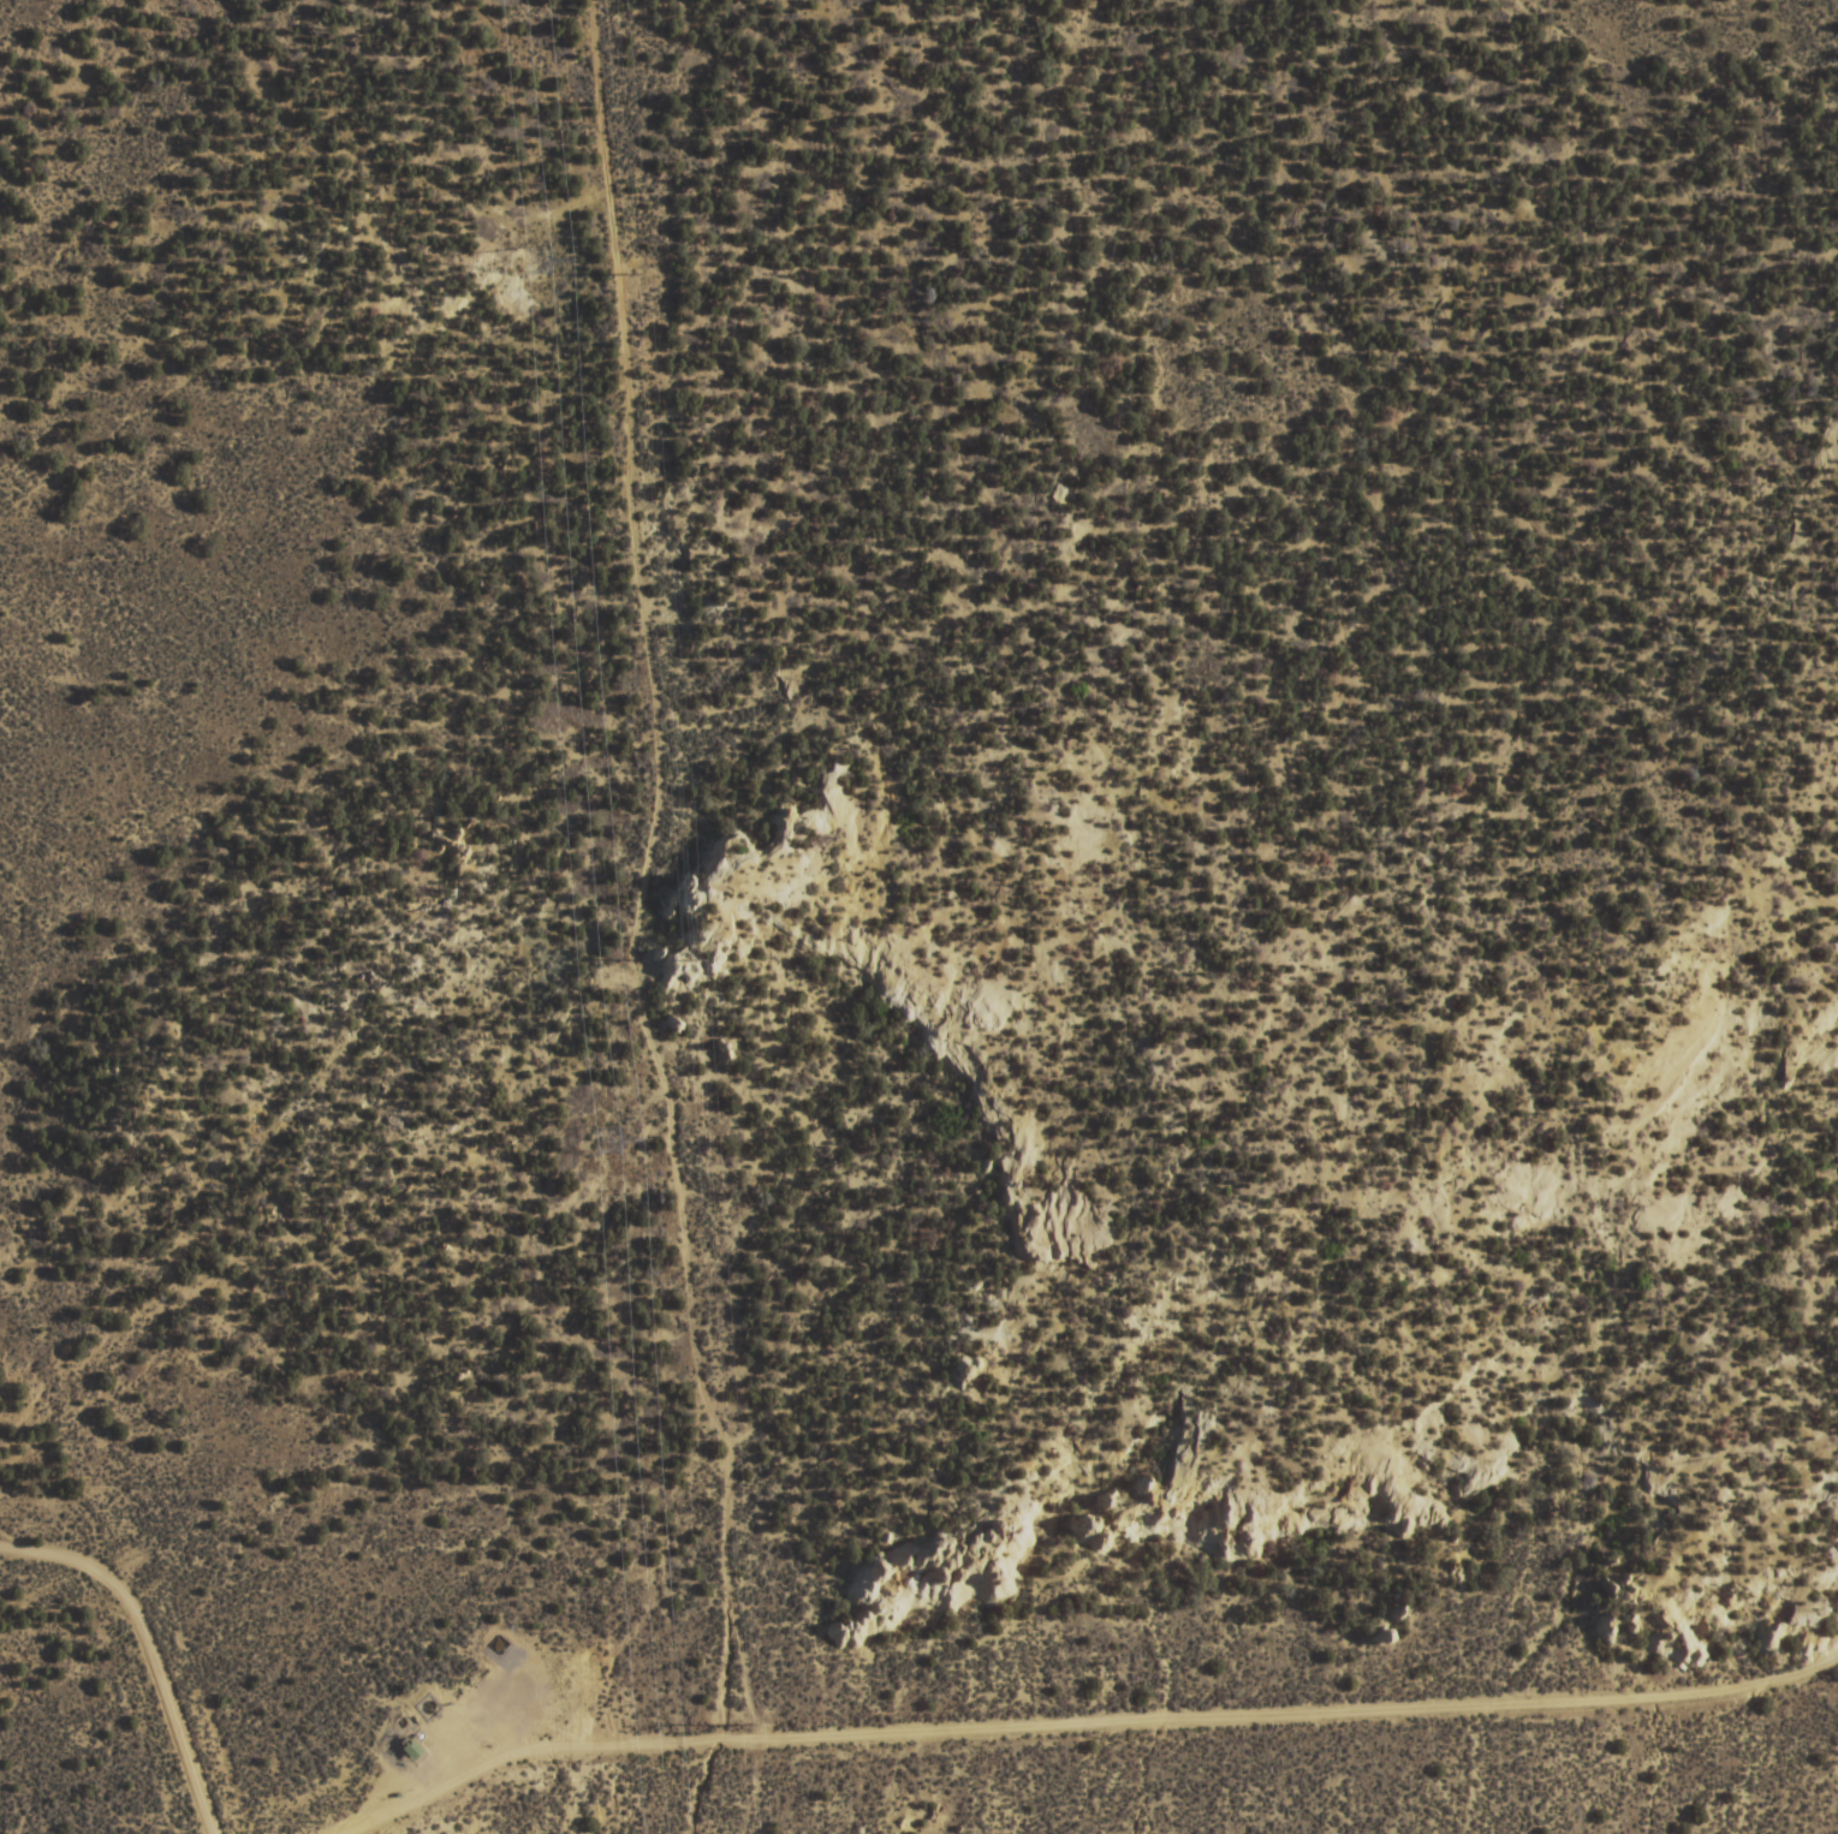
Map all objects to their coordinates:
power tower: (528, 258)
road: (20, 1461)
road: (114, 1667)

